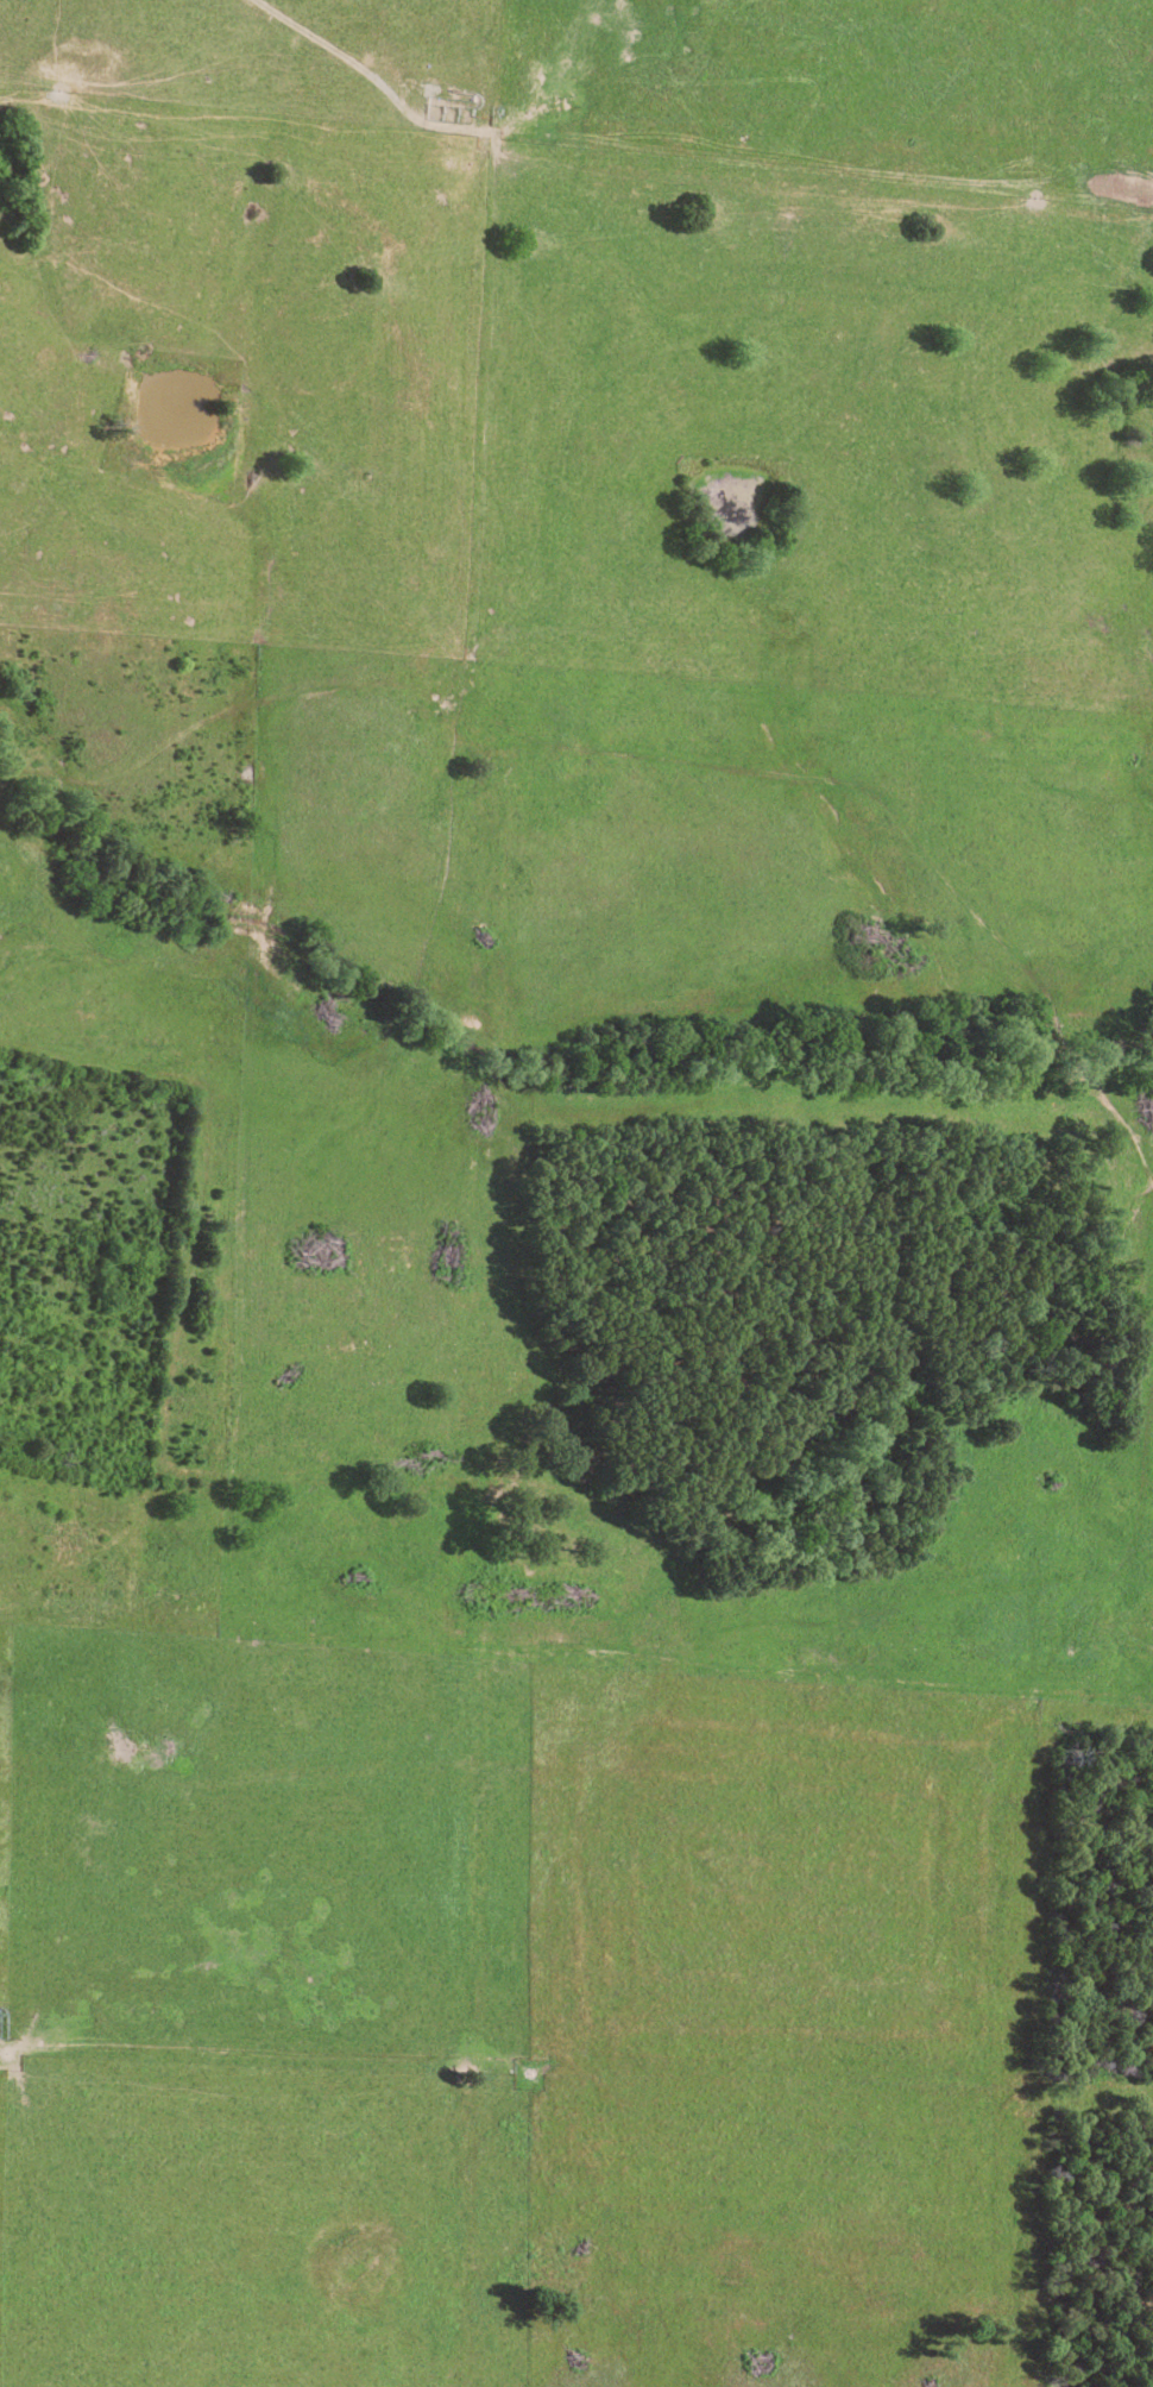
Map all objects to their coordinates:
road: (138, 87)

